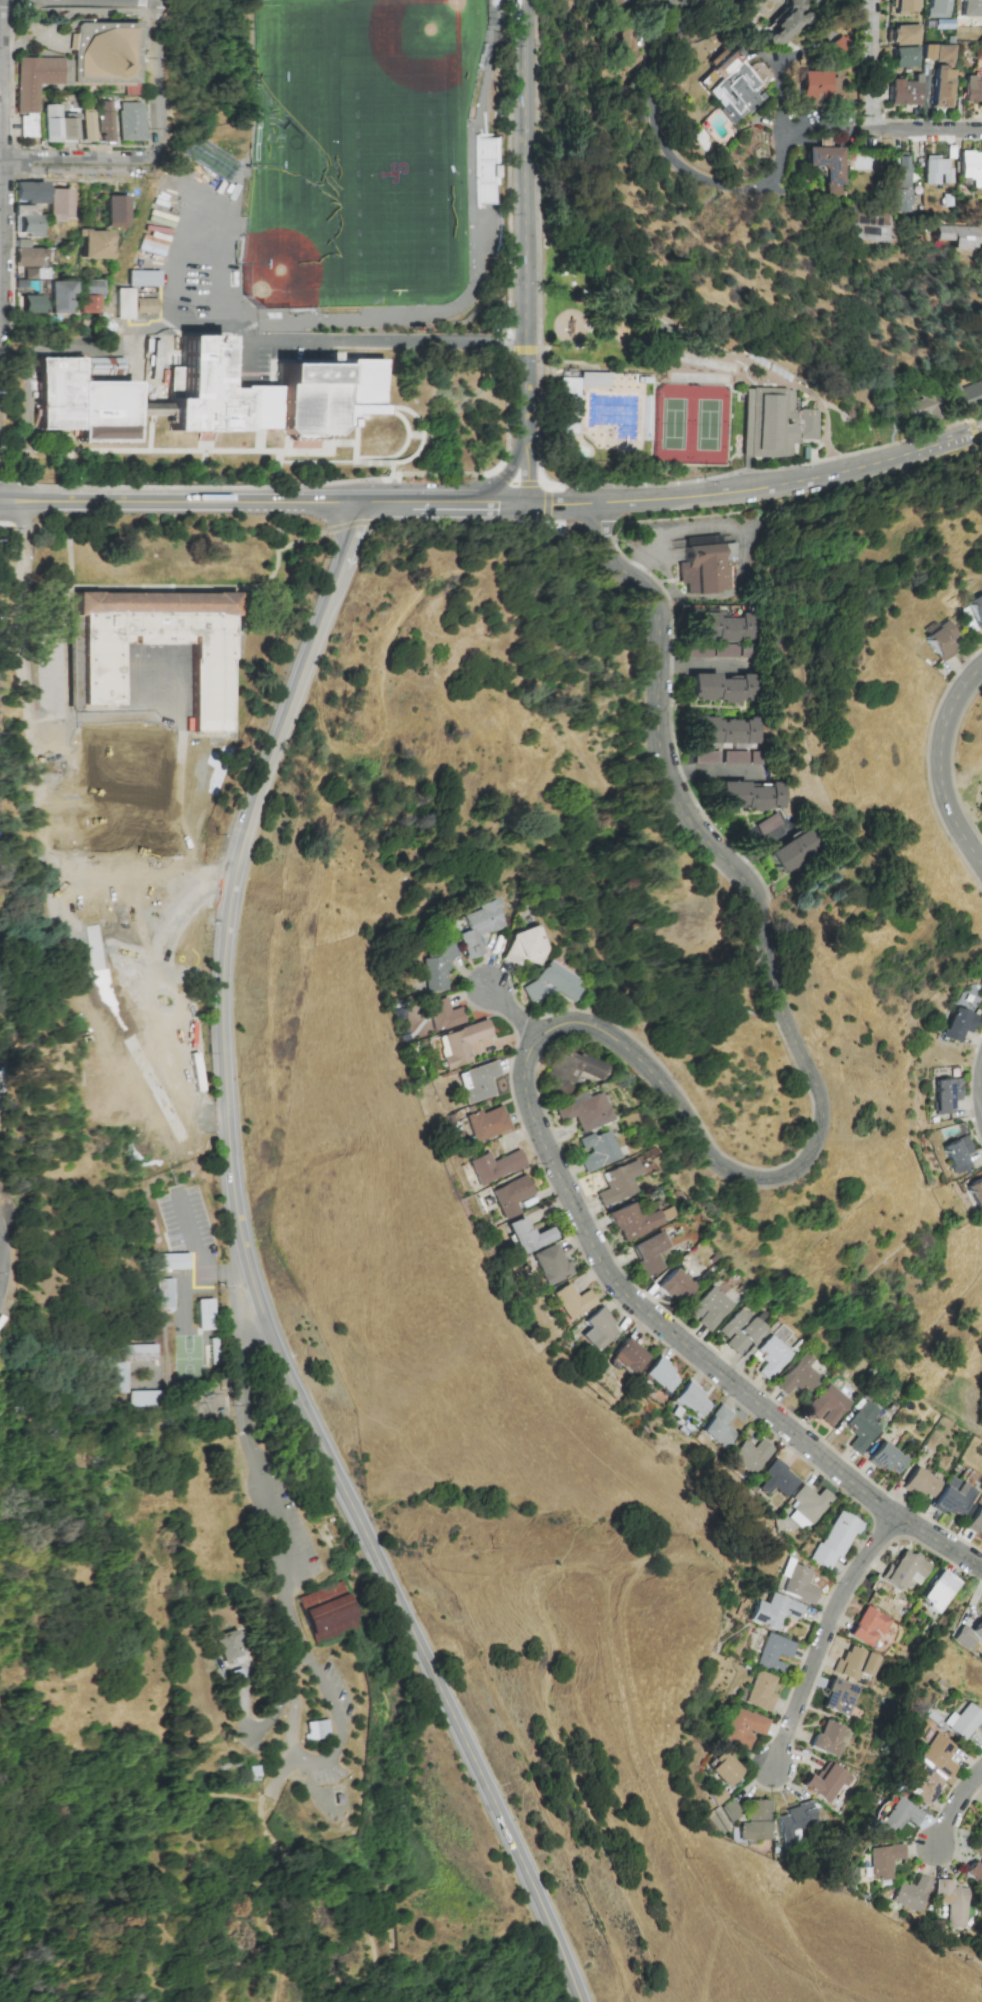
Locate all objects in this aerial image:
building: (681, 1)
building: (695, 1)
building: (817, 1)
building: (612, 2)
road: (145, 3)
building: (904, 6)
building: (937, 8)
building: (970, 8)
road: (145, 9)
road: (99, 11)
building: (784, 23)
building: (904, 35)
building: (623, 47)
park: (417, 53)
building: (937, 53)
building: (108, 56)
building: (905, 57)
road: (875, 66)
park: (293, 70)
building: (39, 79)
road: (151, 79)
road: (163, 80)
road: (1, 83)
building: (729, 86)
road: (780, 86)
building: (816, 86)
building: (941, 88)
road: (646, 89)
building: (971, 89)
building: (904, 92)
building: (103, 121)
building: (130, 121)
building: (57, 124)
building: (30, 125)
building: (86, 126)
road: (15, 127)
road: (929, 133)
road: (780, 161)
building: (867, 163)
building: (823, 166)
road: (80, 167)
building: (970, 168)
building: (485, 170)
building: (935, 171)
park: (393, 173)
building: (899, 182)
building: (29, 192)
building: (59, 204)
building: (116, 211)
road: (526, 213)
building: (25, 221)
building: (864, 227)
building: (953, 236)
building: (94, 244)
building: (152, 244)
park: (301, 249)
building: (29, 260)
building: (143, 278)
building: (60, 296)
building: (90, 296)
building: (124, 303)
building: (27, 304)
building: (145, 305)
road: (39, 332)
park: (671, 332)
road: (711, 340)
road: (364, 342)
building: (594, 380)
building: (359, 389)
building: (196, 391)
building: (969, 395)
building: (306, 399)
building: (83, 403)
building: (569, 406)
building: (921, 406)
building: (258, 407)
park: (689, 424)
building: (775, 424)
road: (977, 434)
road: (149, 451)
road: (525, 465)
road: (509, 467)
road: (492, 468)
road: (757, 490)
road: (179, 503)
road: (504, 503)
road: (426, 504)
road: (365, 505)
road: (6, 524)
road: (21, 525)
road: (744, 535)
road: (302, 541)
road: (603, 541)
road: (616, 544)
building: (707, 565)
road: (163, 587)
building: (975, 608)
building: (719, 626)
building: (939, 640)
building: (719, 651)
road: (708, 668)
building: (93, 673)
building: (721, 688)
building: (725, 731)
road: (960, 750)
building: (736, 757)
road: (953, 762)
road: (939, 765)
building: (197, 771)
road: (718, 772)
road: (42, 776)
building: (749, 796)
building: (762, 828)
road: (771, 848)
building: (793, 852)
building: (473, 926)
building: (518, 946)
building: (431, 967)
building: (547, 983)
road: (779, 986)
building: (439, 1014)
road: (511, 1015)
building: (956, 1024)
building: (456, 1043)
building: (568, 1070)
building: (473, 1082)
building: (943, 1095)
building: (580, 1110)
building: (483, 1123)
building: (593, 1150)
building: (955, 1154)
building: (493, 1166)
building: (614, 1182)
building: (974, 1191)
building: (510, 1196)
building: (629, 1220)
building: (526, 1235)
building: (646, 1253)
road: (198, 1255)
road: (1, 1261)
building: (172, 1261)
building: (549, 1264)
road: (254, 1278)
building: (673, 1285)
building: (164, 1294)
building: (571, 1301)
building: (707, 1308)
building: (203, 1314)
building: (595, 1330)
building: (735, 1331)
road: (690, 1348)
building: (212, 1351)
building: (137, 1352)
building: (626, 1356)
building: (768, 1357)
building: (659, 1375)
building: (796, 1375)
building: (120, 1377)
building: (144, 1398)
building: (689, 1399)
building: (826, 1405)
building: (861, 1426)
building: (715, 1427)
building: (749, 1455)
building: (886, 1458)
road: (252, 1466)
building: (776, 1479)
building: (920, 1483)
building: (953, 1498)
building: (808, 1506)
building: (975, 1520)
parking lot: (284, 1525)
building: (834, 1539)
building: (905, 1570)
road: (549, 1576)
building: (797, 1584)
building: (938, 1590)
building: (770, 1611)
building: (328, 1612)
building: (868, 1626)
building: (976, 1629)
road: (823, 1633)
building: (228, 1646)
building: (771, 1653)
building: (855, 1663)
parking lot: (336, 1685)
building: (757, 1692)
building: (837, 1697)
building: (963, 1722)
building: (739, 1728)
building: (318, 1730)
building: (827, 1738)
building: (935, 1756)
road: (317, 1757)
building: (719, 1768)
road: (281, 1776)
building: (828, 1783)
building: (920, 1786)
building: (712, 1796)
road: (956, 1809)
building: (728, 1811)
building: (898, 1814)
building: (979, 1821)
building: (755, 1822)
building: (797, 1822)
road: (253, 1860)
building: (881, 1860)
building: (976, 1866)
road: (702, 1884)
road: (344, 1886)
building: (910, 1894)
building: (954, 1902)
park: (293, 1996)

